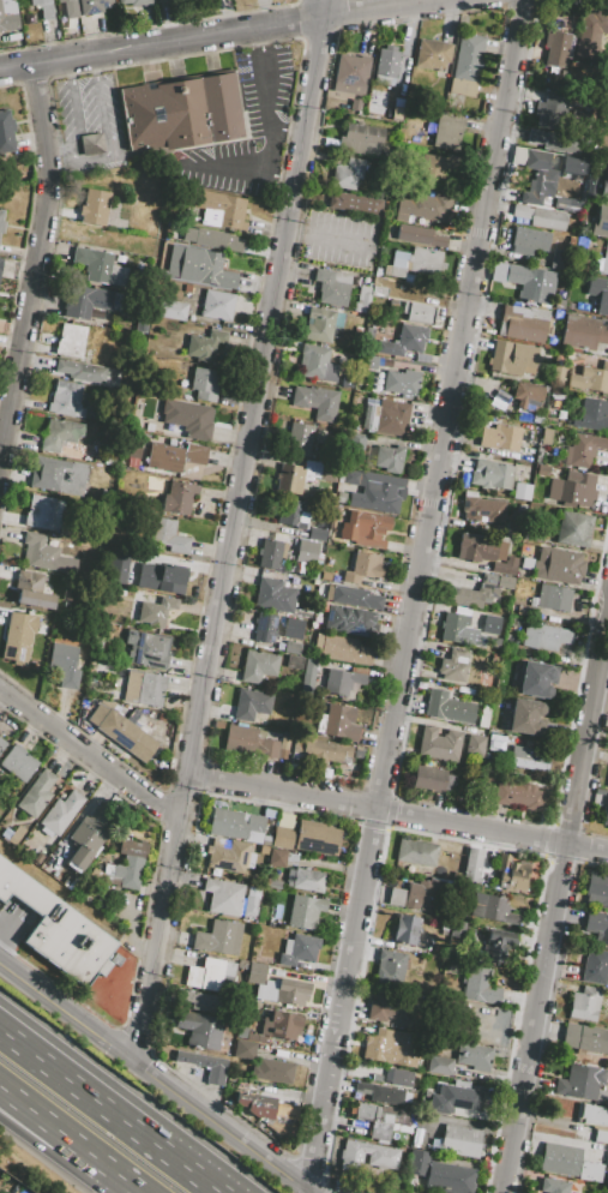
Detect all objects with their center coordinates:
building: (158, 0)
building: (134, 2)
building: (94, 6)
building: (43, 7)
building: (70, 8)
road: (320, 8)
building: (8, 16)
building: (591, 32)
road: (213, 38)
building: (556, 48)
building: (433, 54)
building: (387, 61)
building: (465, 67)
building: (580, 70)
building: (351, 74)
road: (266, 96)
building: (355, 106)
road: (101, 107)
building: (181, 112)
building: (553, 112)
parking lot: (90, 126)
building: (445, 131)
building: (6, 133)
building: (360, 137)
building: (558, 140)
building: (90, 143)
building: (572, 166)
road: (242, 167)
building: (433, 170)
building: (348, 173)
building: (538, 180)
building: (603, 186)
building: (560, 202)
building: (425, 206)
building: (94, 208)
building: (218, 208)
building: (541, 217)
building: (1, 221)
building: (600, 221)
building: (419, 235)
building: (211, 239)
road: (327, 239)
parking lot: (338, 240)
building: (529, 240)
road: (35, 259)
building: (0, 260)
building: (604, 263)
building: (414, 264)
building: (100, 266)
building: (199, 266)
building: (531, 283)
building: (333, 286)
building: (597, 287)
building: (420, 288)
building: (500, 290)
building: (378, 292)
building: (85, 300)
building: (362, 300)
building: (217, 305)
building: (171, 308)
building: (419, 312)
building: (523, 323)
building: (319, 324)
building: (583, 332)
building: (70, 341)
building: (404, 341)
building: (205, 346)
building: (512, 358)
building: (368, 361)
building: (317, 362)
building: (82, 371)
building: (558, 377)
building: (590, 378)
building: (204, 383)
building: (402, 383)
building: (529, 396)
building: (66, 398)
building: (499, 400)
building: (317, 402)
building: (591, 415)
building: (188, 418)
building: (386, 418)
building: (529, 418)
building: (59, 434)
building: (548, 436)
building: (500, 438)
building: (299, 439)
building: (355, 440)
building: (584, 449)
building: (174, 456)
building: (389, 458)
building: (542, 469)
building: (327, 472)
building: (490, 474)
building: (58, 475)
building: (289, 479)
building: (350, 479)
building: (573, 490)
building: (179, 498)
building: (378, 498)
building: (482, 509)
building: (38, 511)
building: (293, 514)
road: (227, 529)
building: (365, 529)
building: (573, 529)
building: (317, 534)
building: (530, 534)
building: (167, 535)
building: (40, 552)
building: (306, 552)
building: (486, 553)
building: (271, 554)
building: (559, 565)
building: (116, 566)
building: (363, 568)
building: (171, 575)
building: (496, 581)
building: (32, 590)
building: (276, 594)
building: (471, 595)
building: (354, 596)
road: (420, 596)
building: (553, 598)
building: (156, 611)
building: (350, 621)
building: (490, 624)
building: (267, 627)
building: (453, 627)
building: (291, 628)
building: (546, 636)
building: (18, 637)
building: (293, 647)
building: (148, 648)
building: (341, 648)
building: (294, 661)
building: (64, 665)
building: (455, 665)
building: (258, 666)
building: (308, 676)
building: (535, 679)
building: (342, 681)
building: (132, 685)
building: (151, 689)
building: (251, 703)
building: (447, 706)
building: (482, 715)
building: (524, 717)
building: (339, 723)
building: (121, 731)
building: (249, 742)
building: (1, 743)
building: (439, 744)
road: (86, 747)
building: (474, 747)
building: (326, 751)
building: (529, 759)
building: (18, 762)
building: (432, 780)
building: (607, 787)
building: (37, 793)
building: (517, 795)
building: (61, 813)
building: (604, 813)
road: (393, 814)
building: (236, 825)
building: (282, 831)
building: (317, 837)
building: (86, 839)
building: (416, 852)
building: (229, 855)
building: (282, 858)
building: (472, 864)
building: (130, 865)
building: (510, 876)
building: (307, 880)
building: (272, 883)
building: (596, 889)
building: (413, 895)
building: (224, 897)
road: (554, 900)
building: (249, 906)
building: (492, 909)
building: (305, 912)
road: (7, 918)
parking lot: (13, 922)
building: (597, 925)
building: (58, 928)
building: (407, 929)
building: (453, 931)
road: (7, 934)
building: (219, 937)
building: (498, 943)
building: (299, 949)
building: (595, 966)
building: (391, 969)
building: (257, 973)
building: (212, 975)
building: (480, 987)
building: (287, 991)
building: (200, 1001)
building: (389, 1005)
building: (584, 1005)
building: (282, 1026)
building: (204, 1031)
building: (241, 1032)
building: (585, 1038)
building: (263, 1039)
building: (383, 1045)
building: (243, 1049)
building: (474, 1055)
building: (204, 1063)
building: (439, 1066)
building: (272, 1071)
building: (398, 1077)
road: (153, 1078)
building: (580, 1081)
building: (380, 1092)
building: (456, 1101)
building: (255, 1103)
road: (110, 1110)
building: (594, 1115)
building: (373, 1120)
building: (416, 1135)
road: (62, 1137)
building: (600, 1137)
building: (459, 1141)
building: (369, 1155)
road: (58, 1159)
building: (559, 1159)
building: (607, 1164)
building: (590, 1171)
building: (440, 1174)
building: (554, 1186)
road: (130, 1188)
building: (405, 1191)
building: (420, 1192)

